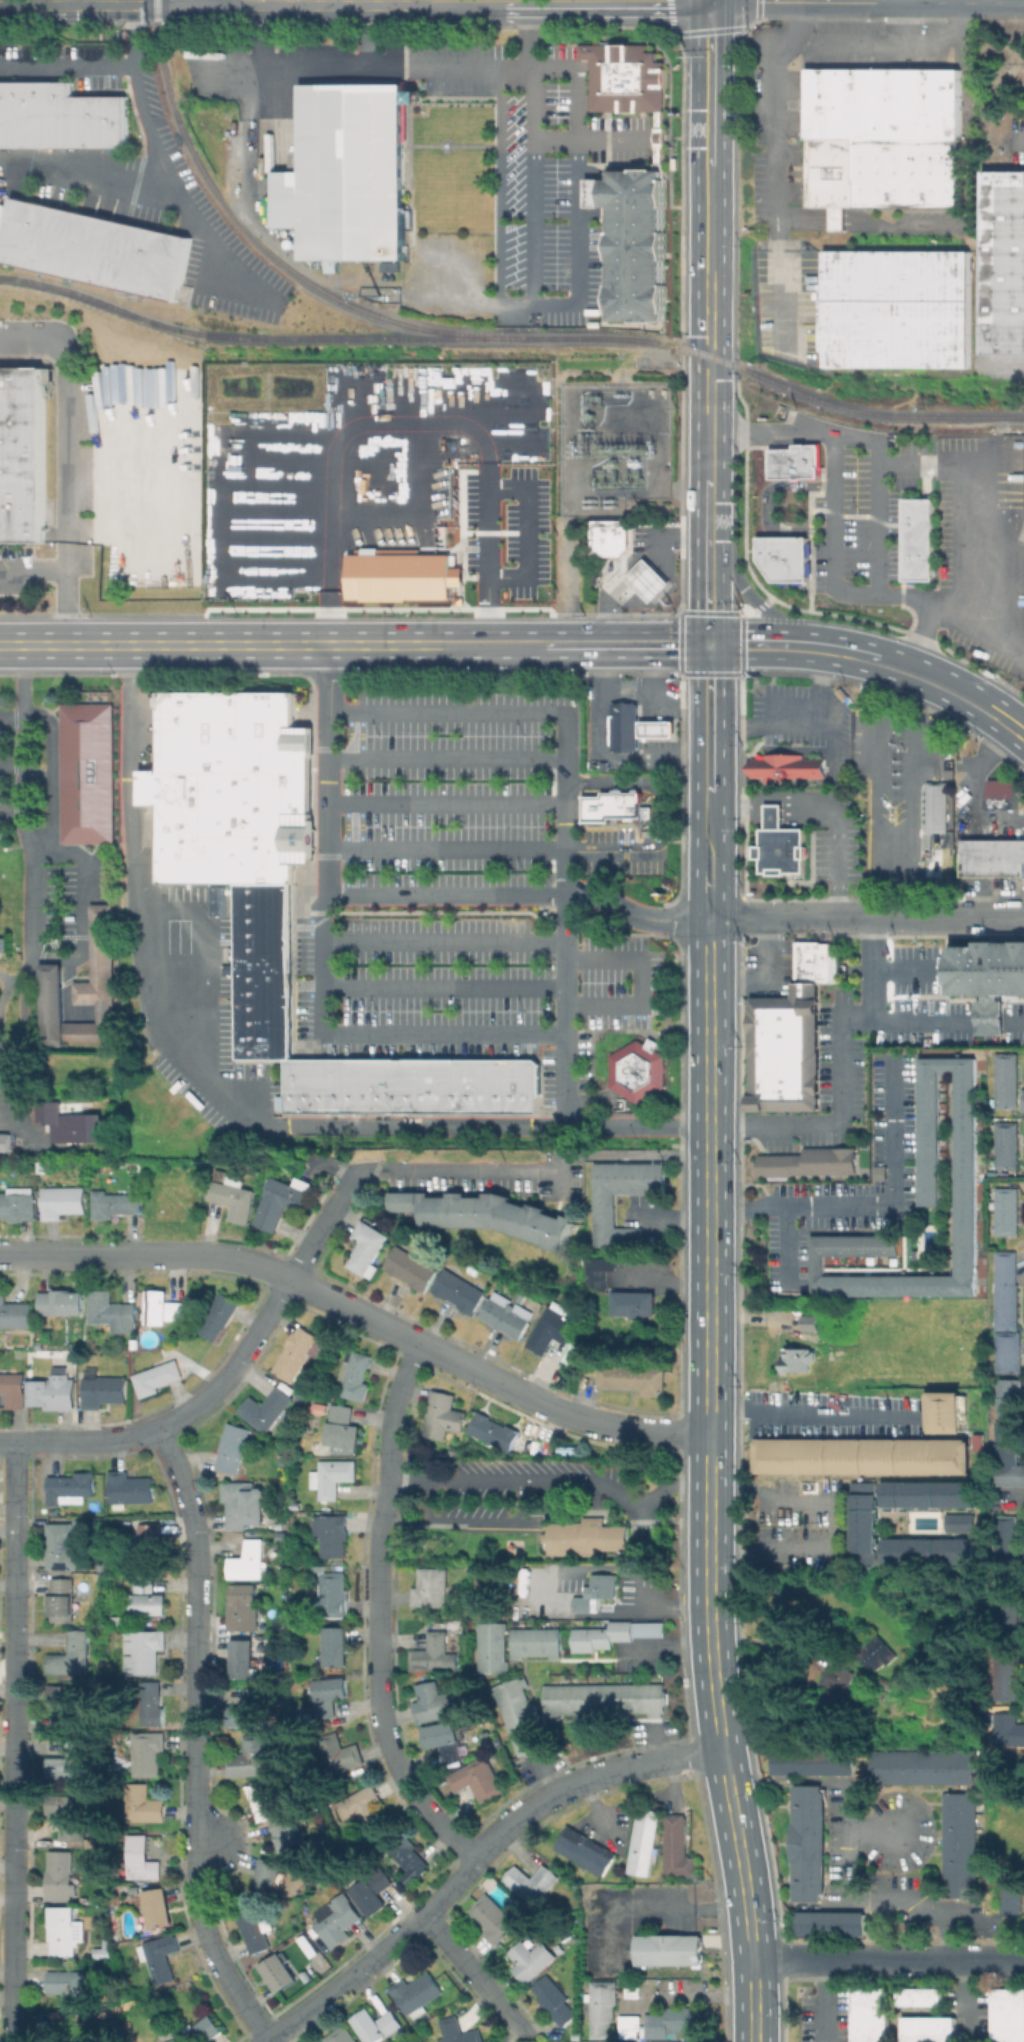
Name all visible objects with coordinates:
road: (710, 1)
road: (711, 1)
road: (882, 1)
road: (70, 2)
road: (204, 2)
road: (442, 2)
road: (523, 2)
road: (832, 2)
traffic signals: (711, 3)
road: (989, 3)
road: (355, 4)
road: (367, 35)
road: (887, 42)
road: (66, 62)
road: (366, 66)
building: (627, 79)
road: (711, 84)
building: (59, 116)
road: (1021, 134)
road: (587, 137)
building: (883, 138)
road: (778, 166)
building: (349, 175)
road: (579, 184)
road: (172, 185)
building: (596, 195)
road: (532, 198)
road: (710, 217)
building: (639, 243)
railway: (262, 247)
building: (93, 248)
building: (1005, 264)
building: (389, 267)
building: (897, 308)
railway: (351, 339)
road: (709, 340)
road: (128, 346)
railway: (924, 372)
railway: (949, 386)
railway: (862, 410)
road: (71, 423)
railway: (1015, 426)
road: (406, 438)
building: (894, 440)
road: (709, 446)
power substation: (614, 450)
building: (22, 454)
building: (792, 460)
road: (930, 465)
road: (765, 508)
road: (709, 511)
road: (882, 531)
road: (524, 534)
building: (611, 536)
building: (918, 540)
road: (980, 541)
building: (783, 559)
road: (633, 563)
road: (71, 570)
building: (402, 578)
building: (649, 579)
gas station: (649, 579)
road: (568, 585)
road: (709, 593)
road: (749, 595)
road: (928, 608)
road: (977, 635)
road: (623, 644)
traffic signals: (709, 644)
road: (269, 645)
road: (874, 646)
road: (865, 671)
road: (21, 677)
road: (652, 677)
road: (447, 712)
road: (709, 718)
road: (791, 722)
building: (626, 726)
building: (658, 728)
road: (1019, 732)
road: (598, 755)
road: (446, 758)
building: (789, 766)
road: (981, 767)
road: (328, 770)
building: (89, 773)
road: (907, 783)
road: (641, 784)
building: (230, 786)
building: (1001, 794)
road: (773, 800)
road: (446, 803)
building: (610, 805)
building: (938, 805)
road: (792, 817)
road: (708, 831)
road: (45, 833)
building: (779, 846)
road: (491, 850)
building: (992, 857)
road: (836, 864)
road: (446, 894)
parking lot: (466, 894)
road: (708, 894)
building: (219, 898)
road: (79, 908)
road: (634, 914)
road: (865, 917)
building: (263, 918)
road: (29, 920)
road: (443, 941)
building: (263, 962)
building: (813, 962)
road: (877, 968)
road: (904, 970)
building: (947, 970)
building: (990, 970)
building: (263, 976)
road: (768, 980)
road: (640, 982)
road: (443, 987)
building: (84, 990)
road: (564, 990)
building: (263, 991)
building: (263, 1006)
building: (992, 1016)
road: (992, 1019)
road: (1015, 1020)
building: (263, 1021)
parking lot: (209, 1029)
road: (374, 1033)
building: (263, 1043)
building: (784, 1049)
road: (175, 1056)
road: (839, 1067)
building: (636, 1068)
building: (1005, 1080)
building: (402, 1084)
building: (477, 1084)
building: (306, 1085)
building: (336, 1085)
building: (351, 1085)
building: (365, 1085)
building: (379, 1085)
building: (1022, 1100)
building: (79, 1126)
building: (5, 1141)
building: (1004, 1147)
building: (810, 1163)
road: (458, 1170)
building: (234, 1195)
building: (922, 1198)
building: (64, 1201)
building: (283, 1202)
building: (18, 1203)
building: (116, 1204)
road: (873, 1206)
building: (604, 1209)
building: (1005, 1211)
building: (487, 1214)
building: (369, 1247)
road: (787, 1247)
building: (412, 1268)
building: (599, 1273)
building: (460, 1290)
building: (1004, 1290)
building: (63, 1302)
building: (634, 1304)
building: (163, 1307)
building: (112, 1311)
building: (15, 1312)
road: (361, 1312)
building: (219, 1315)
building: (506, 1317)
building: (812, 1321)
building: (553, 1330)
building: (297, 1352)
building: (322, 1352)
building: (1007, 1352)
building: (799, 1358)
building: (356, 1375)
building: (157, 1377)
road: (227, 1378)
building: (633, 1378)
building: (14, 1389)
building: (103, 1391)
building: (53, 1393)
building: (320, 1409)
building: (268, 1410)
road: (810, 1411)
building: (946, 1411)
building: (444, 1415)
parking lot: (828, 1415)
building: (344, 1431)
building: (495, 1431)
building: (1009, 1431)
building: (233, 1447)
building: (864, 1455)
road: (555, 1476)
building: (333, 1477)
road: (710, 1481)
building: (72, 1488)
building: (130, 1488)
building: (930, 1493)
road: (1017, 1493)
building: (243, 1503)
building: (297, 1503)
road: (771, 1503)
road: (475, 1519)
building: (865, 1521)
building: (963, 1522)
building: (285, 1534)
building: (332, 1534)
building: (585, 1538)
building: (151, 1542)
building: (1006, 1542)
building: (66, 1543)
road: (771, 1544)
building: (930, 1550)
building: (251, 1562)
road: (571, 1567)
building: (431, 1587)
building: (597, 1591)
building: (332, 1595)
building: (148, 1597)
building: (61, 1601)
building: (244, 1608)
road: (380, 1613)
building: (121, 1616)
building: (615, 1634)
building: (538, 1642)
building: (336, 1646)
building: (494, 1647)
building: (144, 1650)
building: (877, 1652)
building: (435, 1654)
building: (73, 1655)
building: (244, 1659)
building: (1004, 1677)
building: (327, 1695)
building: (606, 1699)
building: (435, 1702)
building: (152, 1703)
building: (63, 1708)
building: (249, 1710)
building: (521, 1717)
building: (1009, 1729)
building: (445, 1740)
road: (17, 1741)
road: (196, 1741)
building: (147, 1753)
building: (339, 1754)
building: (254, 1758)
building: (71, 1761)
building: (815, 1761)
building: (924, 1767)
building: (478, 1779)
building: (264, 1800)
building: (143, 1804)
building: (362, 1805)
road: (595, 1808)
building: (69, 1814)
building: (288, 1835)
road: (207, 1841)
building: (643, 1841)
building: (811, 1842)
building: (961, 1844)
building: (677, 1848)
building: (585, 1850)
building: (408, 1854)
building: (141, 1859)
road: (476, 1861)
building: (268, 1875)
building: (60, 1876)
building: (532, 1883)
building: (373, 1890)
road: (872, 1894)
building: (1013, 1899)
building: (158, 1908)
road: (656, 1909)
building: (493, 1918)
building: (337, 1919)
building: (833, 1922)
building: (253, 1928)
building: (63, 1930)
building: (309, 1941)
building: (106, 1947)
building: (671, 1949)
building: (161, 1957)
building: (531, 1959)
road: (888, 1959)
building: (279, 1972)
road: (478, 1977)
building: (70, 1987)
building: (634, 1989)
building: (416, 1992)
building: (920, 1996)
building: (555, 2000)
building: (602, 2007)
building: (869, 2014)
building: (1007, 2015)
building: (668, 2023)
building: (376, 2025)
building: (456, 2028)
building: (927, 2029)
building: (205, 2030)
building: (341, 2035)
building: (174, 2040)

